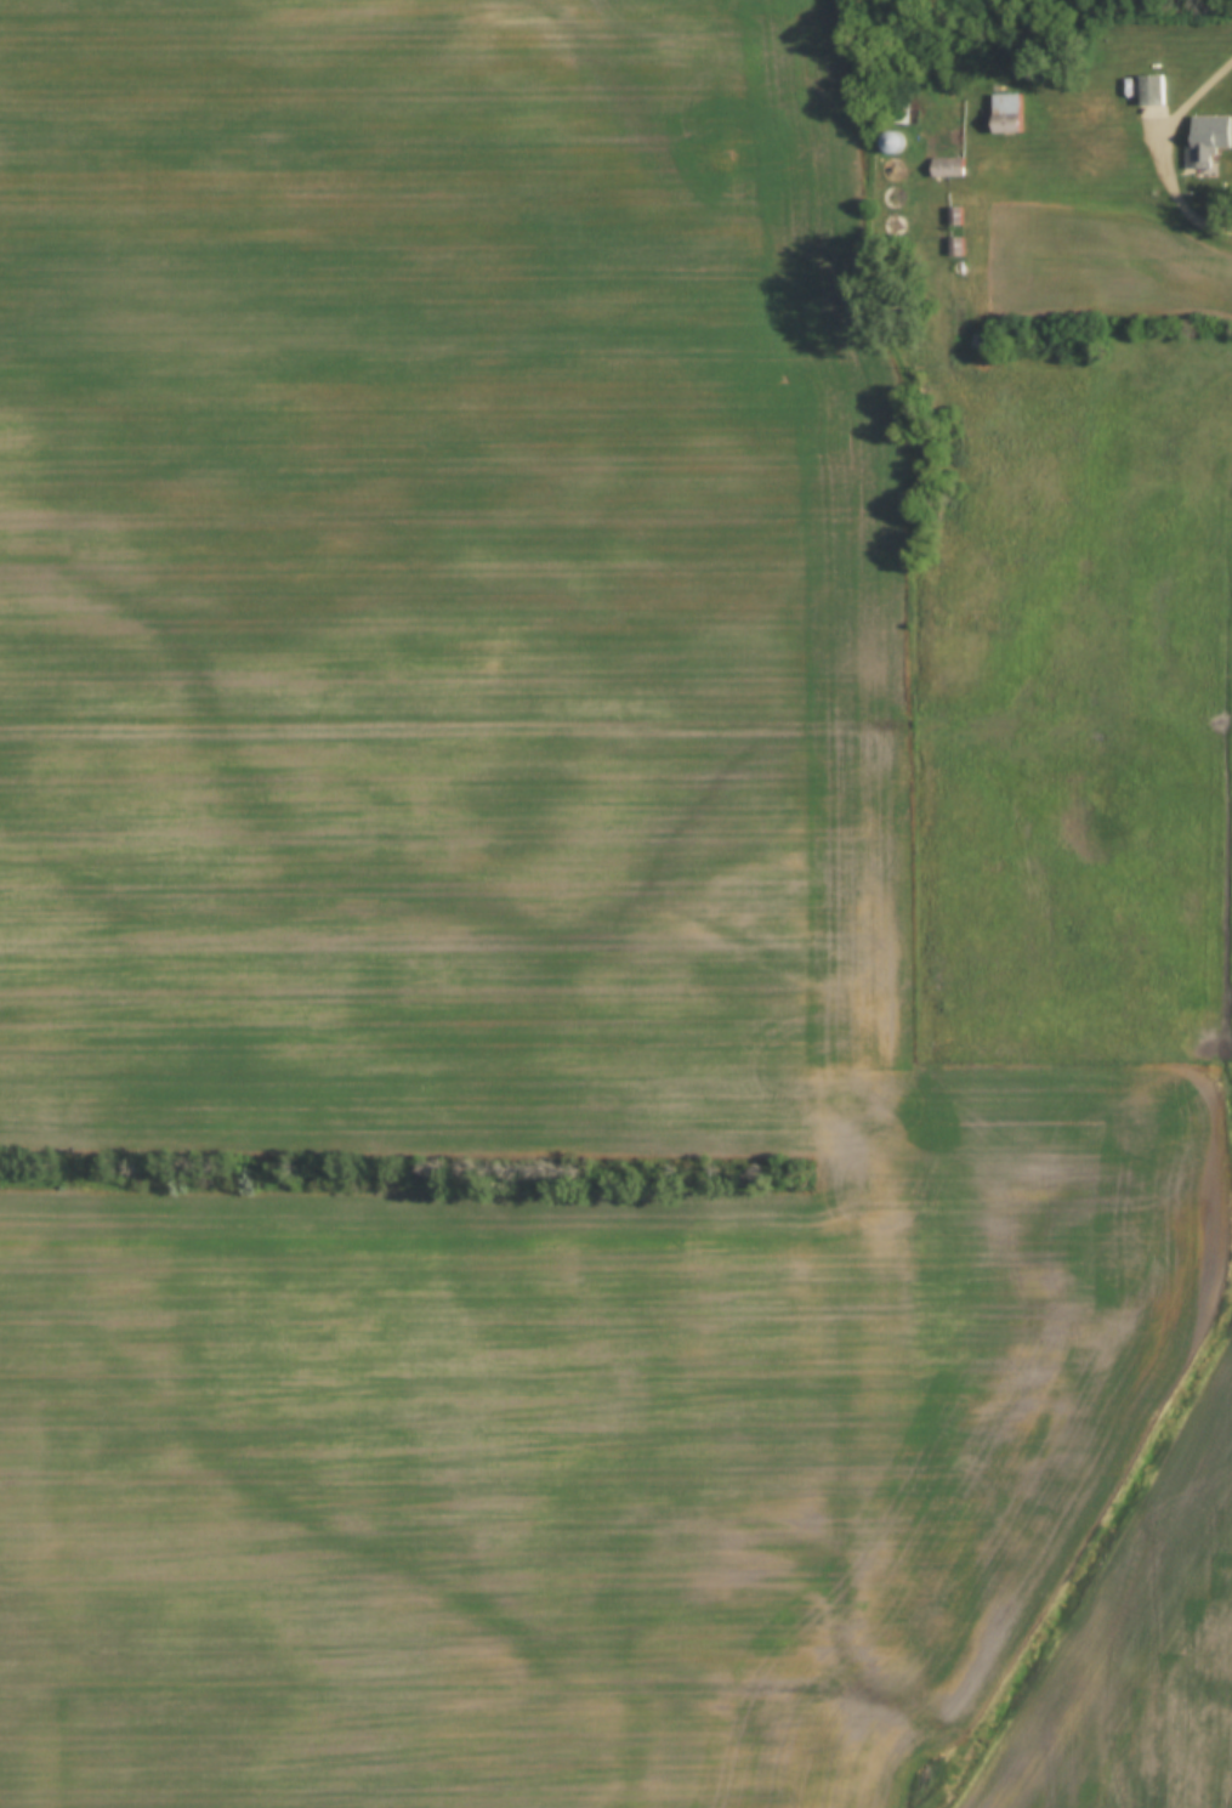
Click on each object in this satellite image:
building: (1152, 91)
building: (901, 110)
building: (1007, 115)
building: (892, 143)
building: (1203, 153)
road: (1170, 155)
building: (948, 169)
building: (954, 217)
building: (955, 248)

